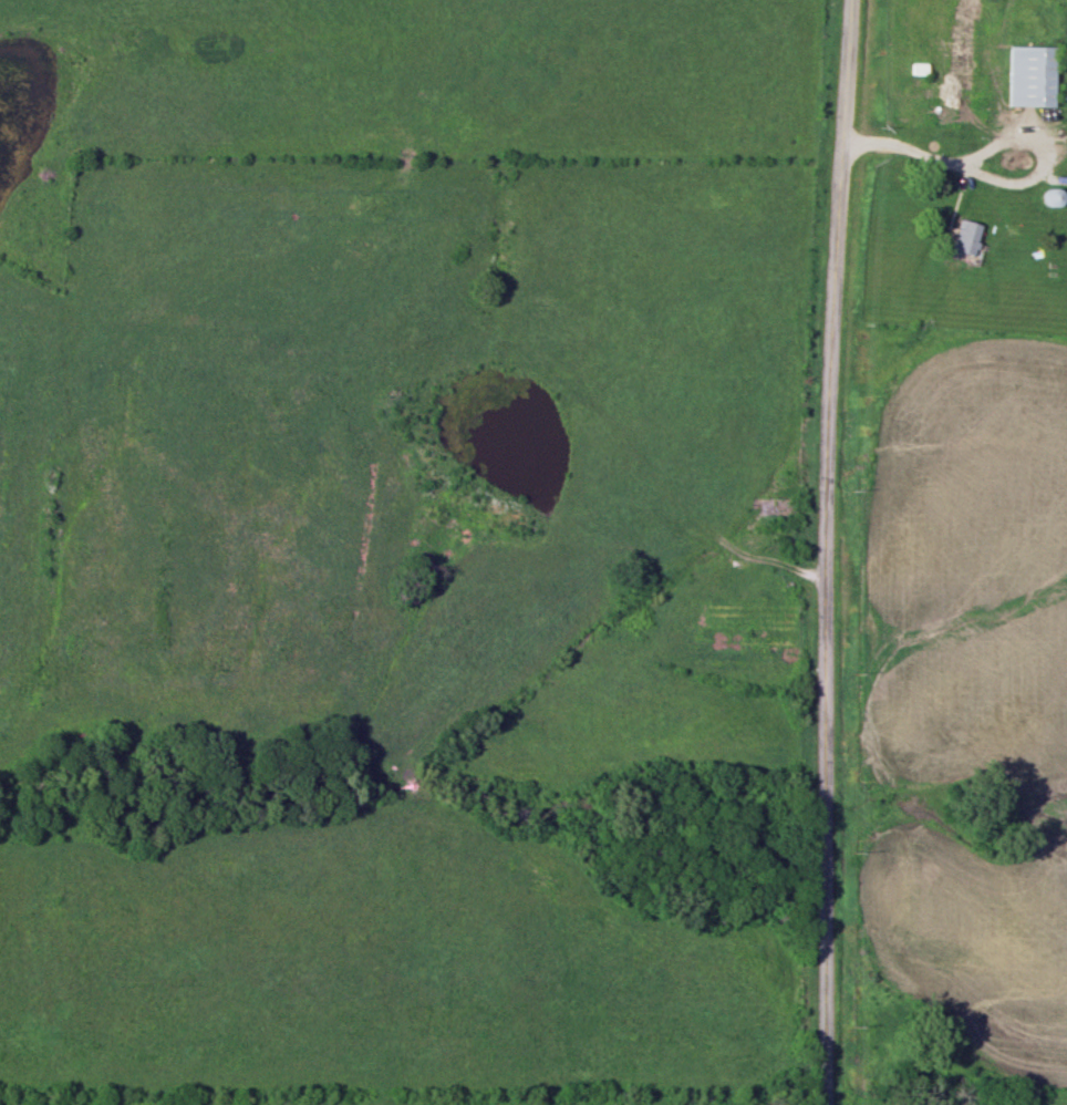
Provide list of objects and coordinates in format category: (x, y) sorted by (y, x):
building: (1030, 76)
building: (965, 239)
road: (826, 551)

